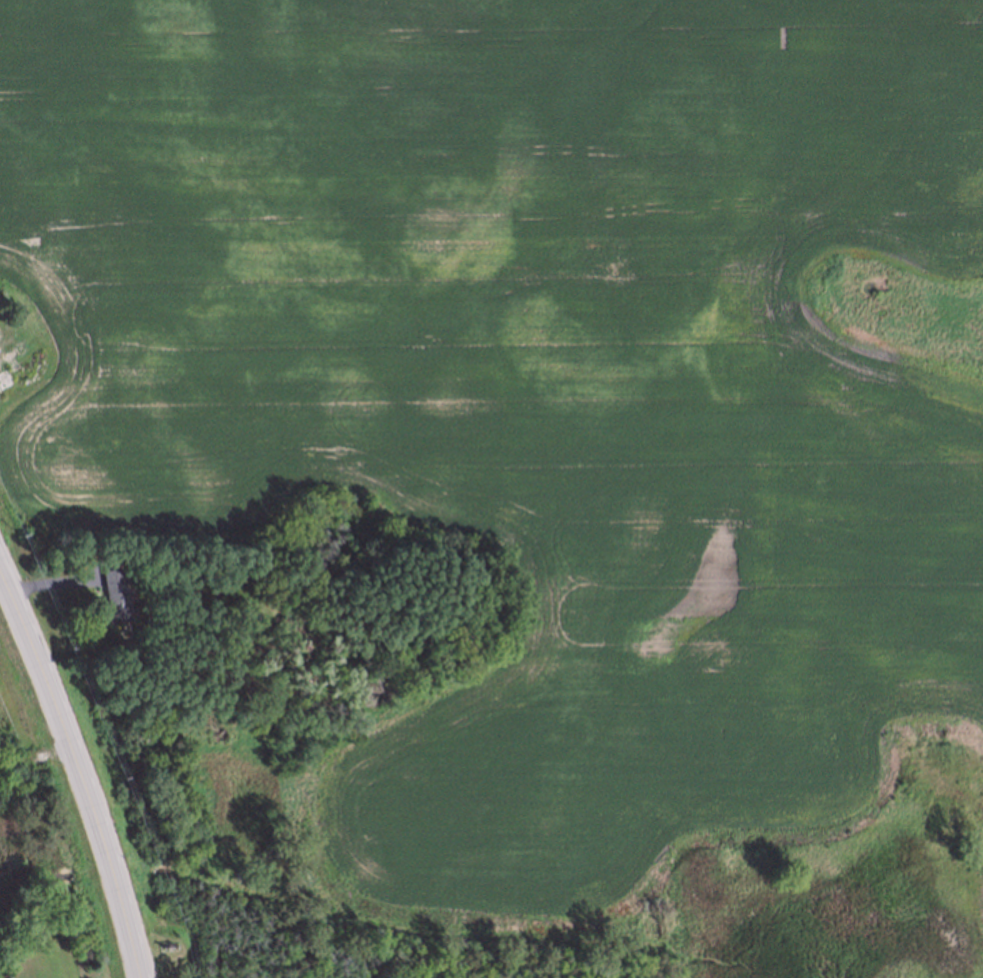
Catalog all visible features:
building: (5, 379)
building: (114, 597)
road: (81, 771)

